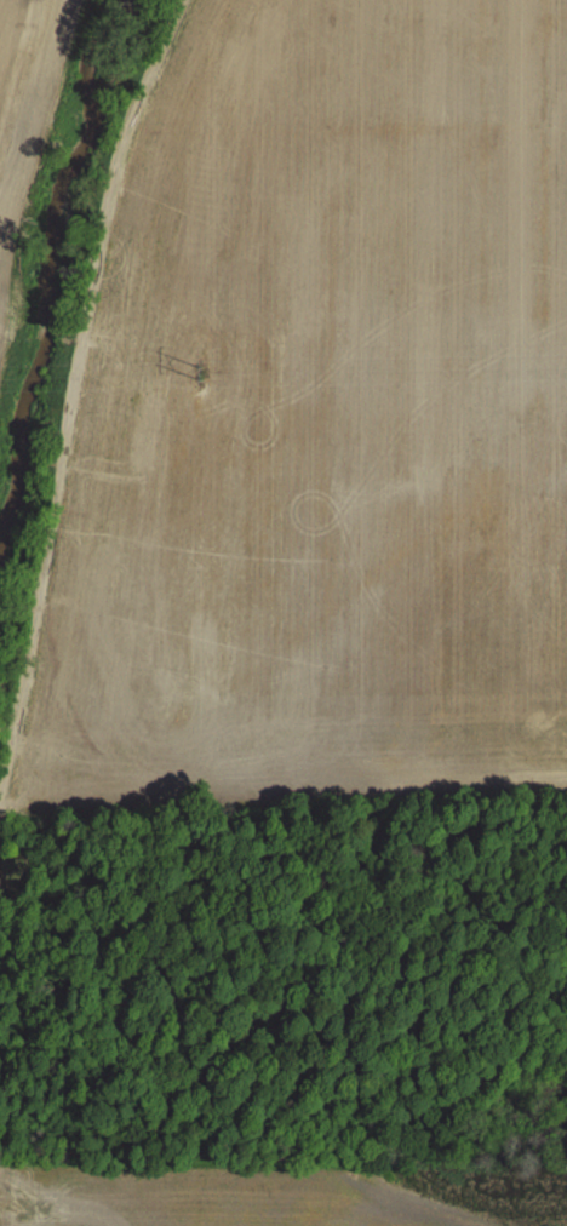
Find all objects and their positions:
road: (74, 388)

